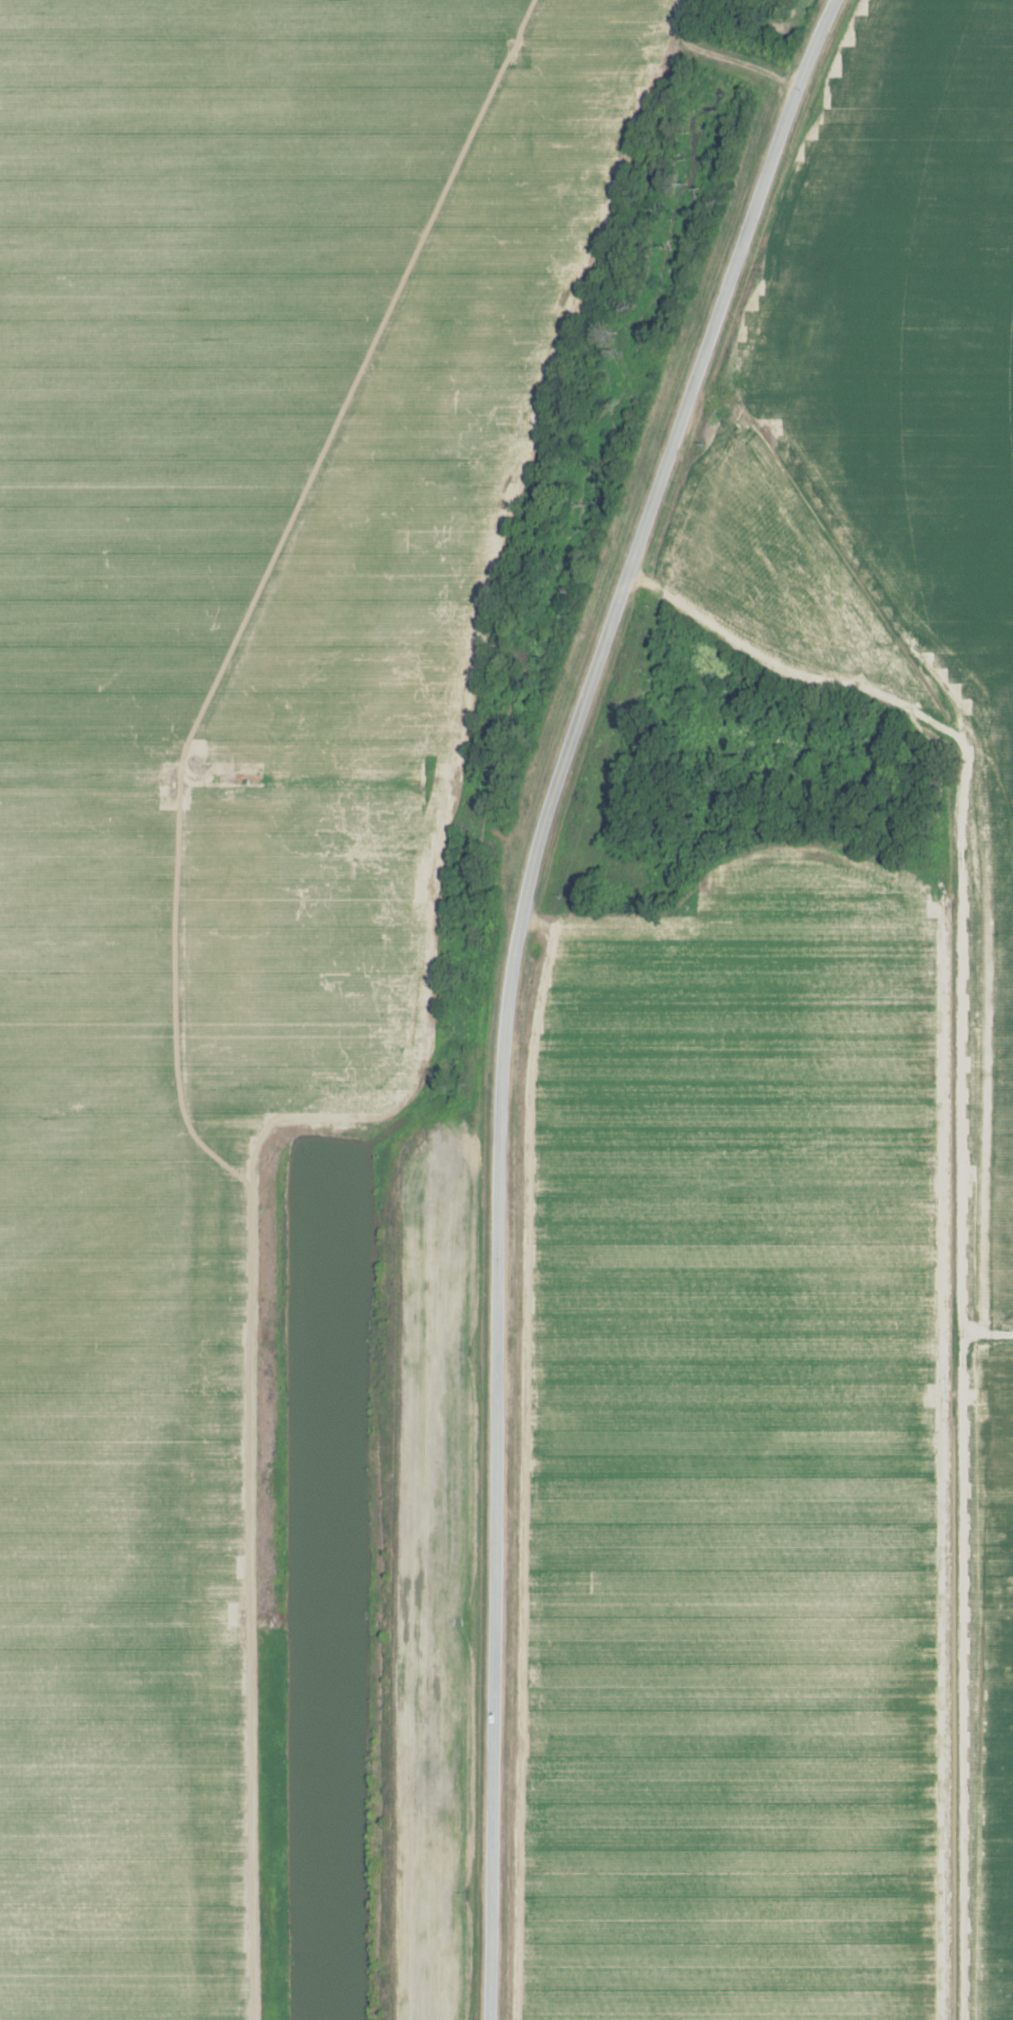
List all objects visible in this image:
road: (324, 468)
road: (508, 983)
road: (977, 1194)
road: (994, 1323)

